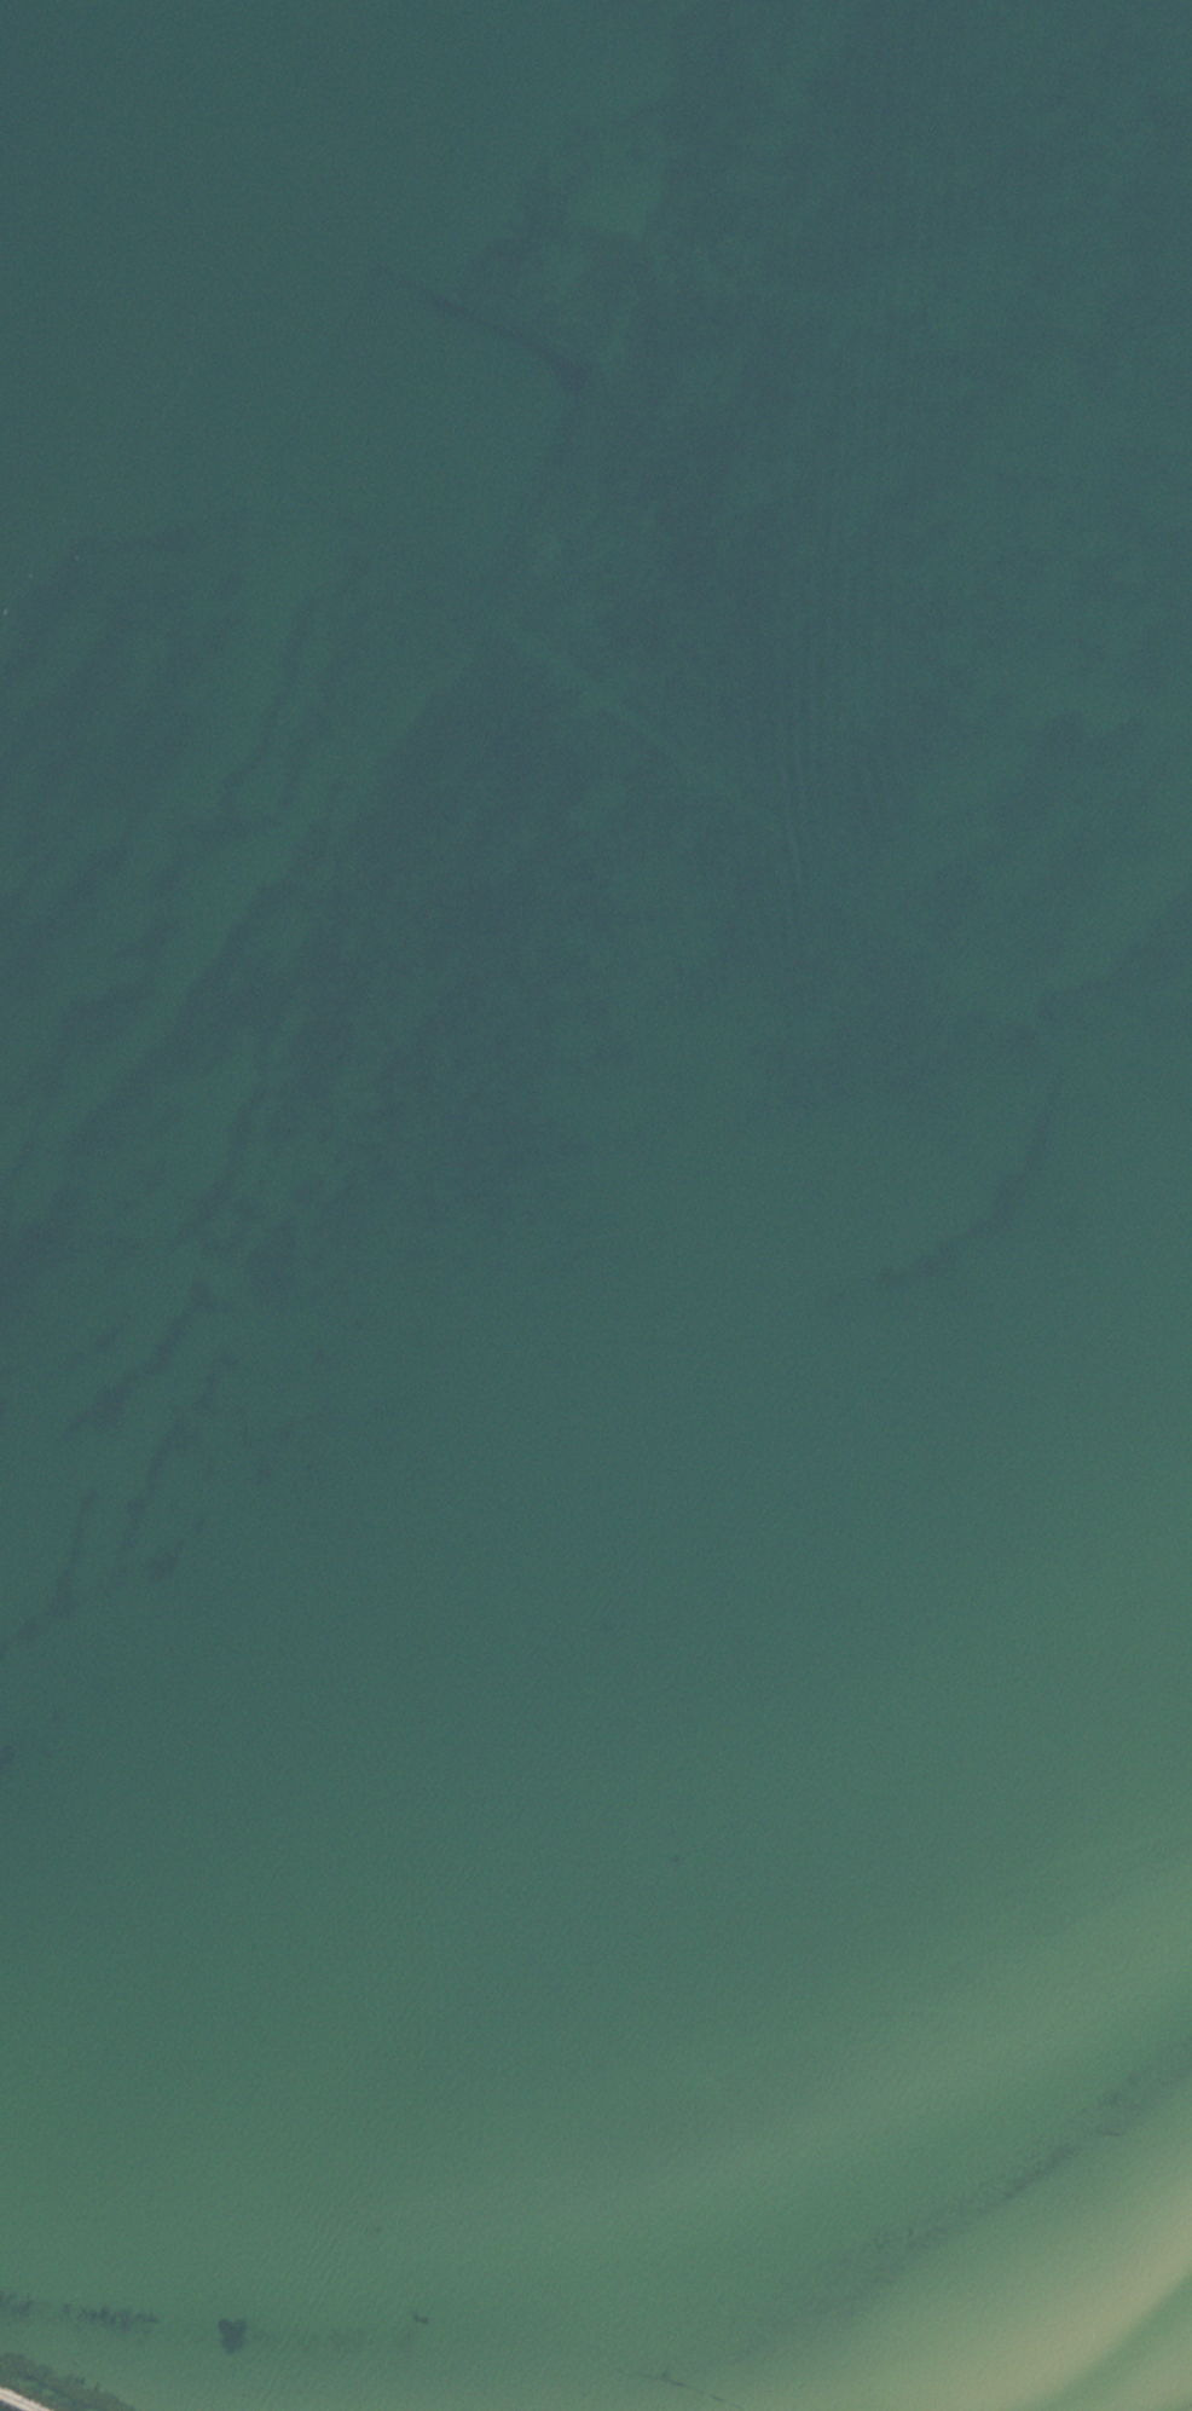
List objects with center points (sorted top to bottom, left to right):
park: (44, 2390)
pier: (39, 2392)
road: (23, 2400)
park: (1182, 2406)

